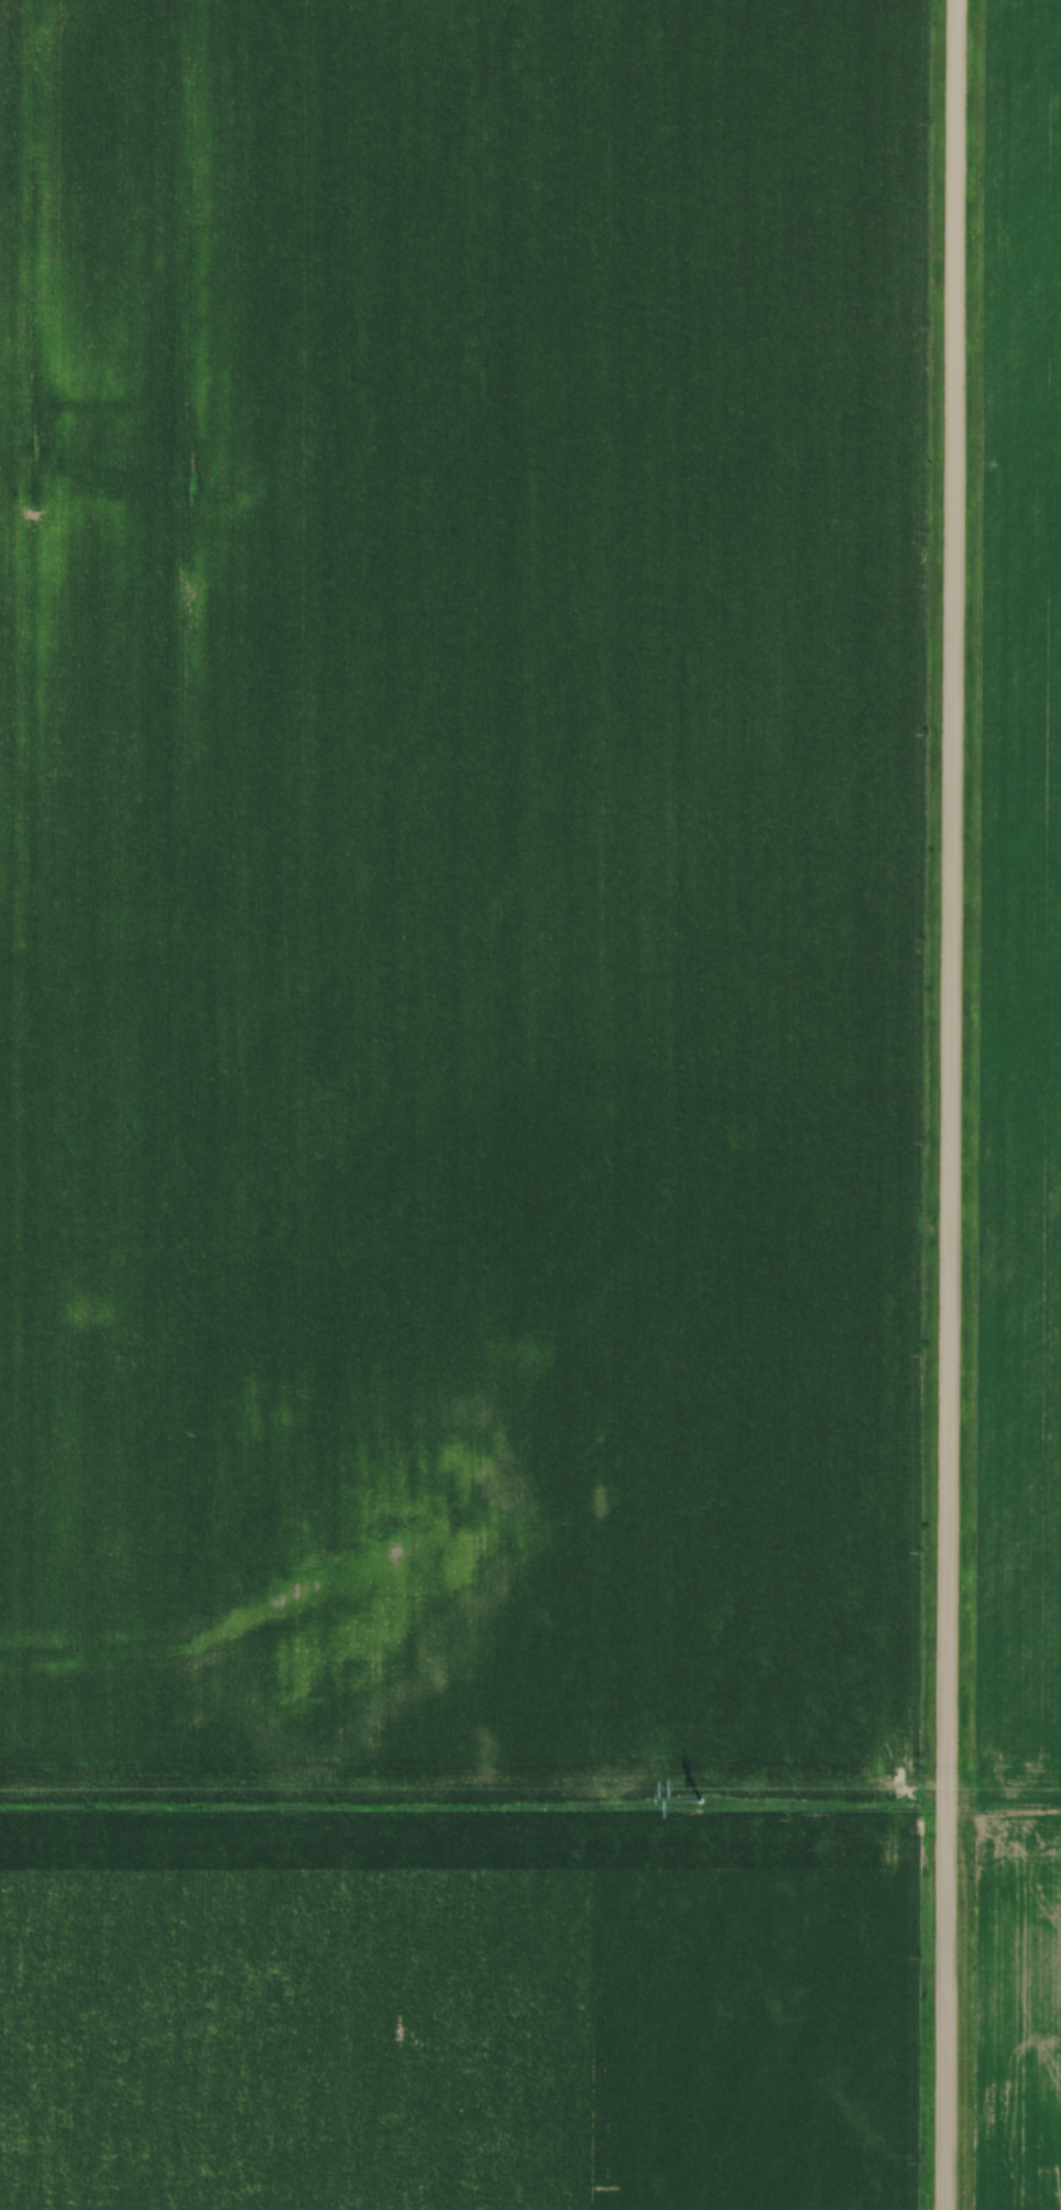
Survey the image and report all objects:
road: (943, 1104)
power tower: (696, 1798)

